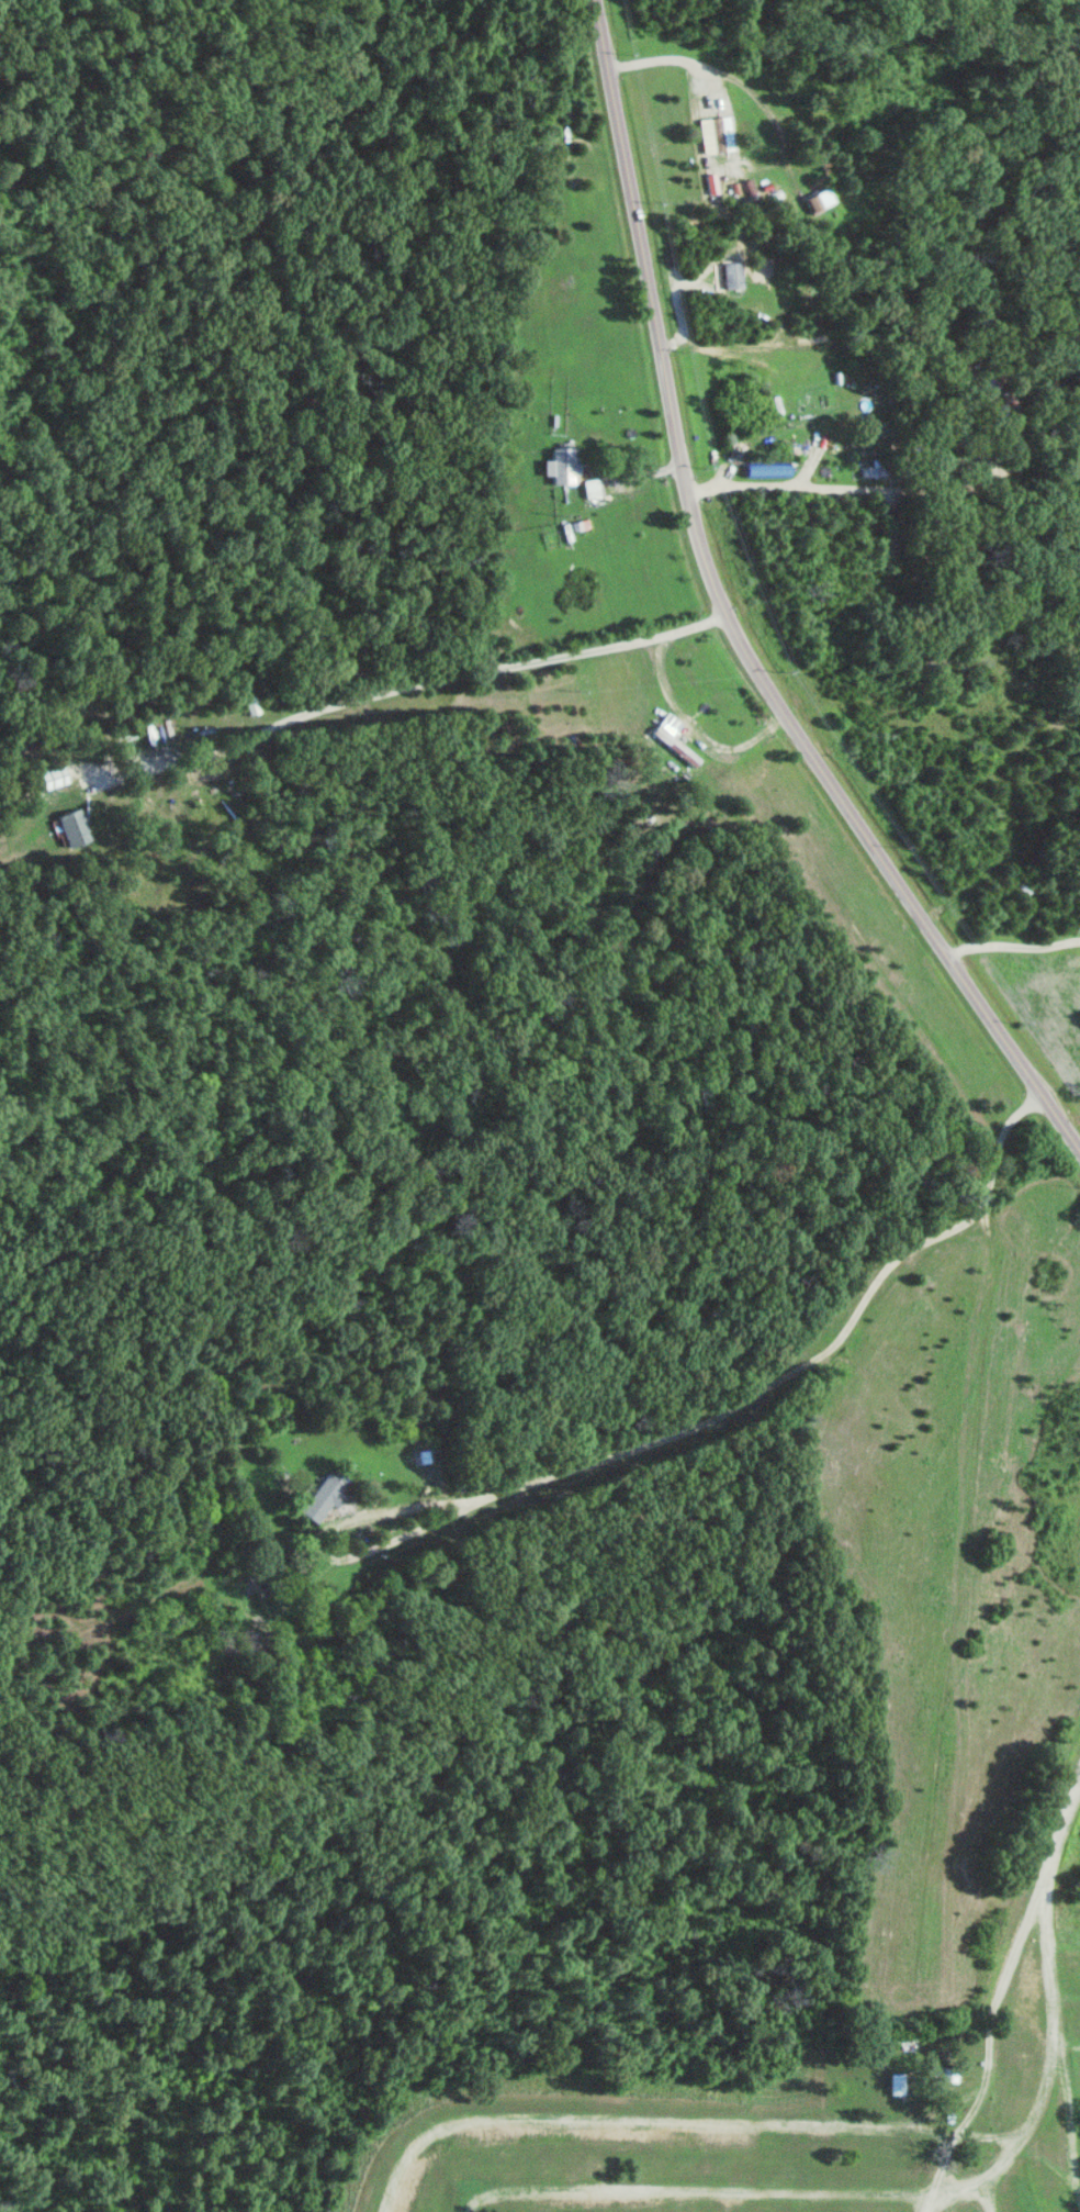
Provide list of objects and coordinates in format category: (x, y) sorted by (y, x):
building: (716, 134)
building: (559, 465)
road: (724, 621)
road: (396, 689)
building: (675, 746)
building: (52, 777)
building: (72, 827)
road: (1013, 945)
road: (747, 1397)
building: (322, 1497)
road: (1051, 1986)
road: (1067, 2003)
building: (1006, 2036)
road: (1069, 2045)
road: (989, 2054)
building: (937, 2070)
building: (944, 2071)
building: (953, 2073)
building: (949, 2114)
road: (640, 2118)
road: (1024, 2131)
road: (937, 2174)
road: (693, 2188)
road: (961, 2188)
road: (545, 2199)

